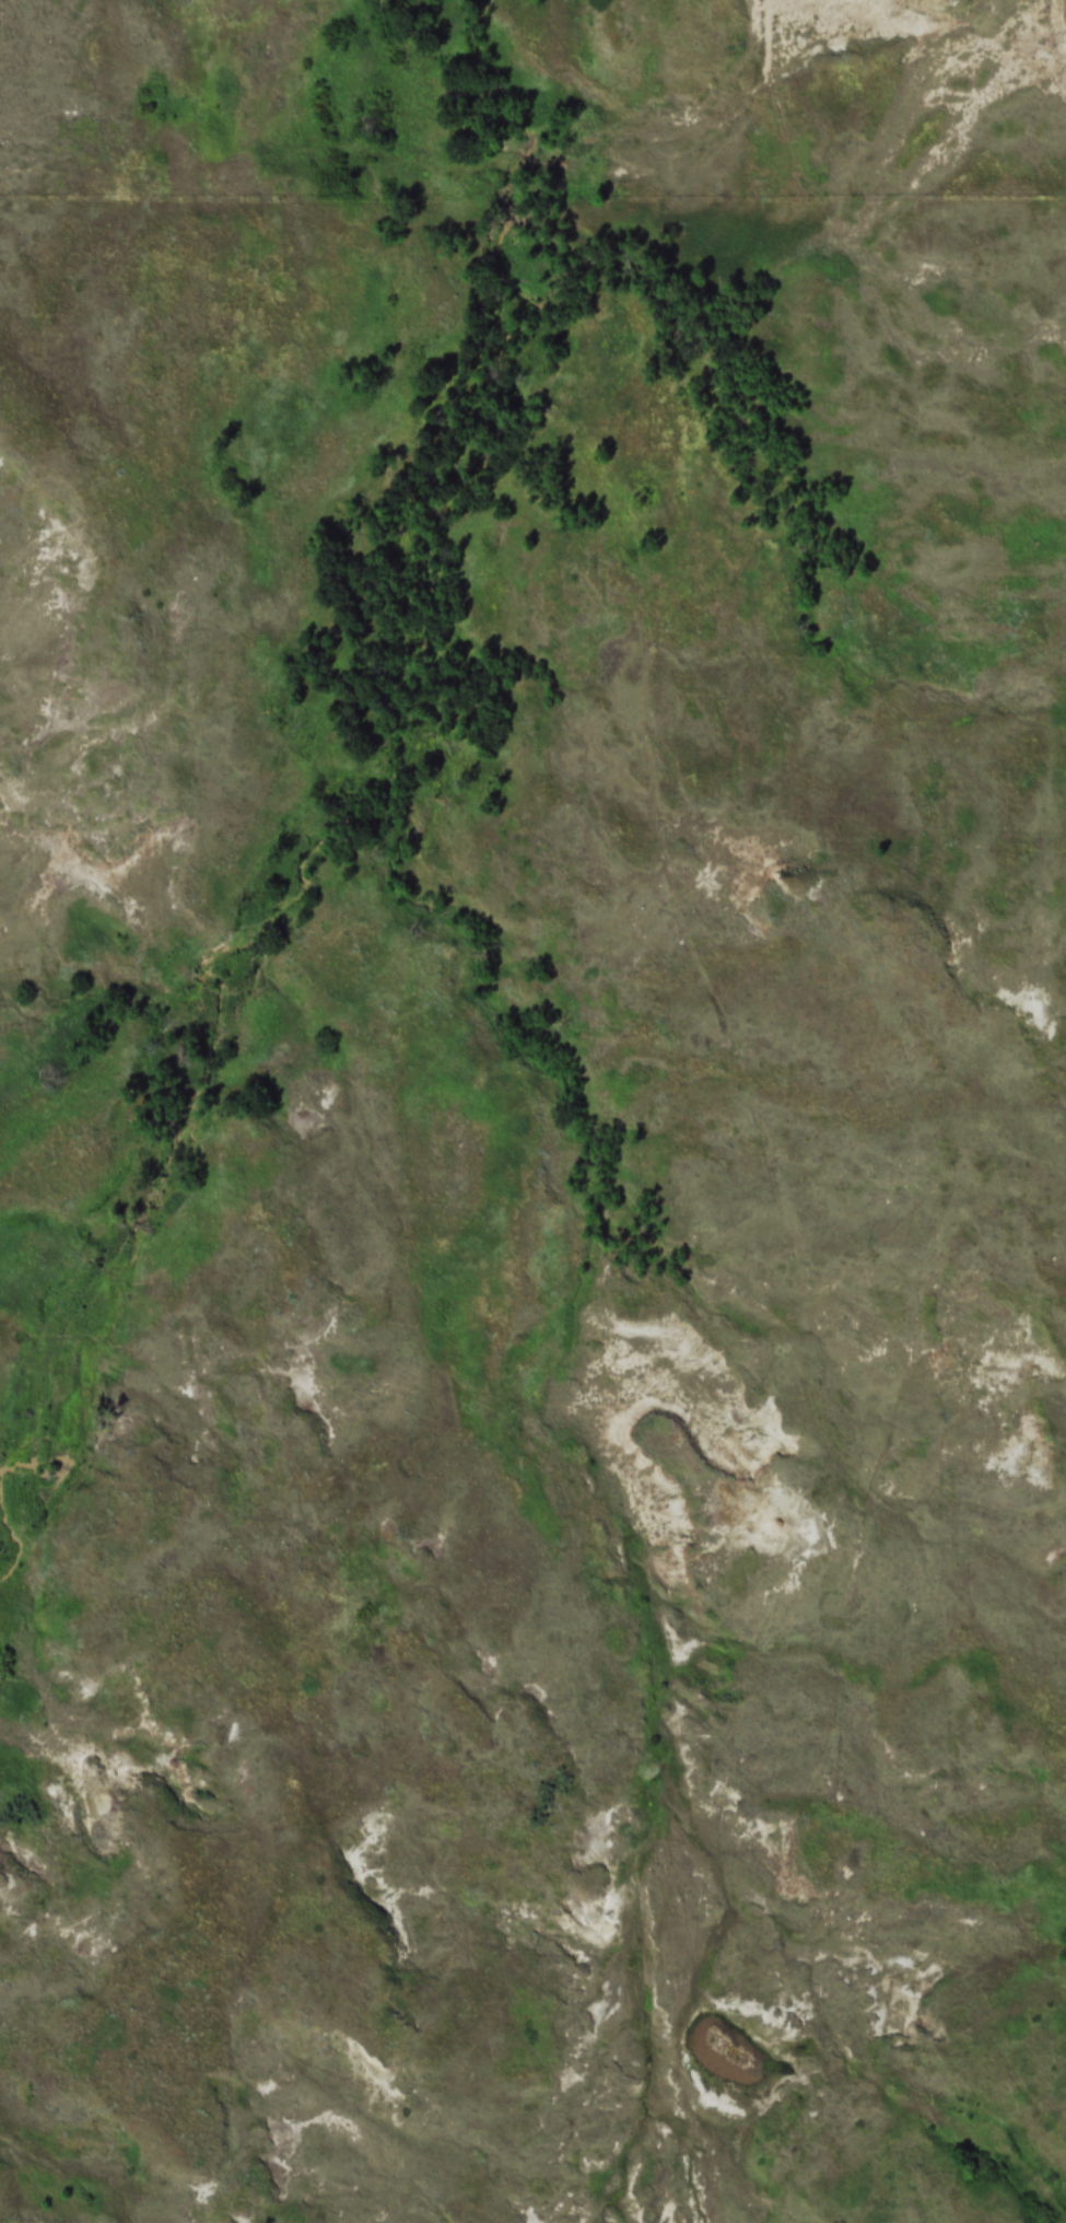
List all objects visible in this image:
road: (883, 329)
road: (1052, 1720)

